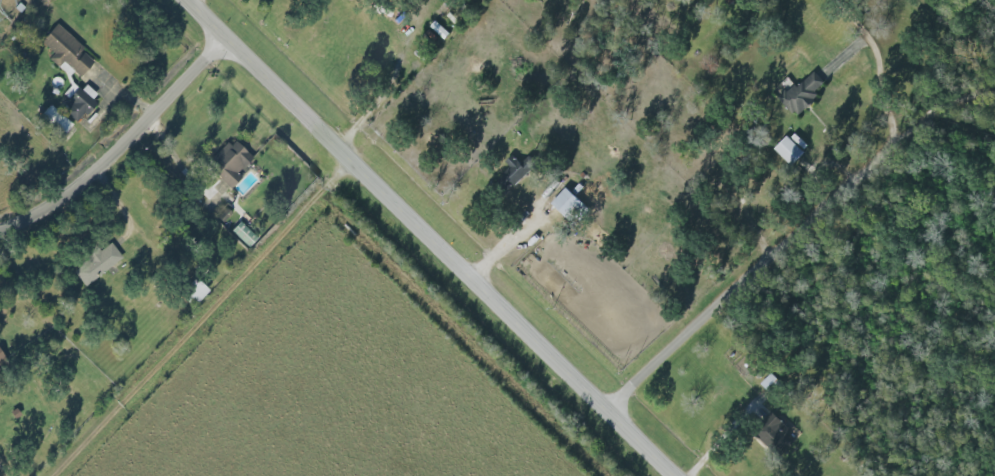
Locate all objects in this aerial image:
building: (63, 51)
road: (875, 62)
building: (67, 89)
building: (802, 92)
building: (79, 101)
road: (938, 105)
building: (53, 121)
road: (120, 143)
building: (787, 149)
road: (173, 159)
building: (226, 162)
building: (512, 173)
building: (217, 202)
building: (568, 205)
road: (432, 236)
building: (95, 263)
road: (745, 270)
building: (191, 290)
building: (775, 439)

